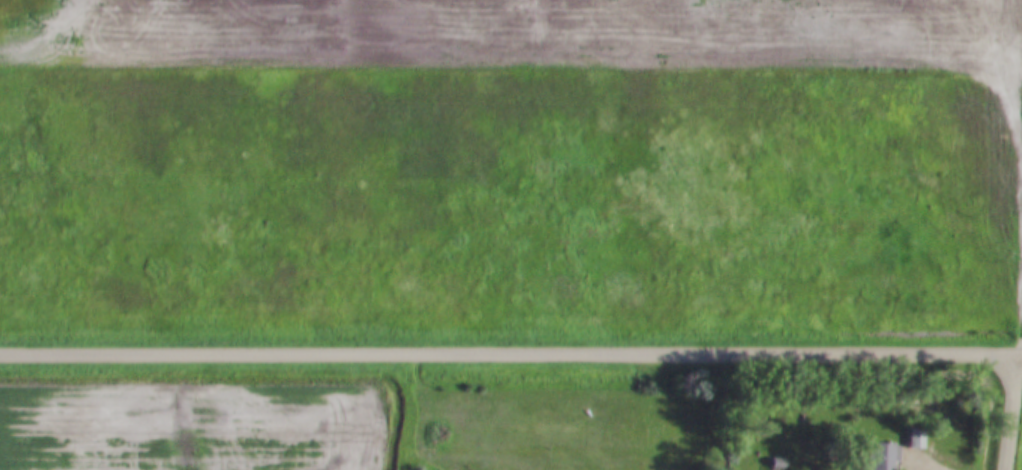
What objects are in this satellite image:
road: (510, 356)
road: (1013, 413)
building: (886, 455)

